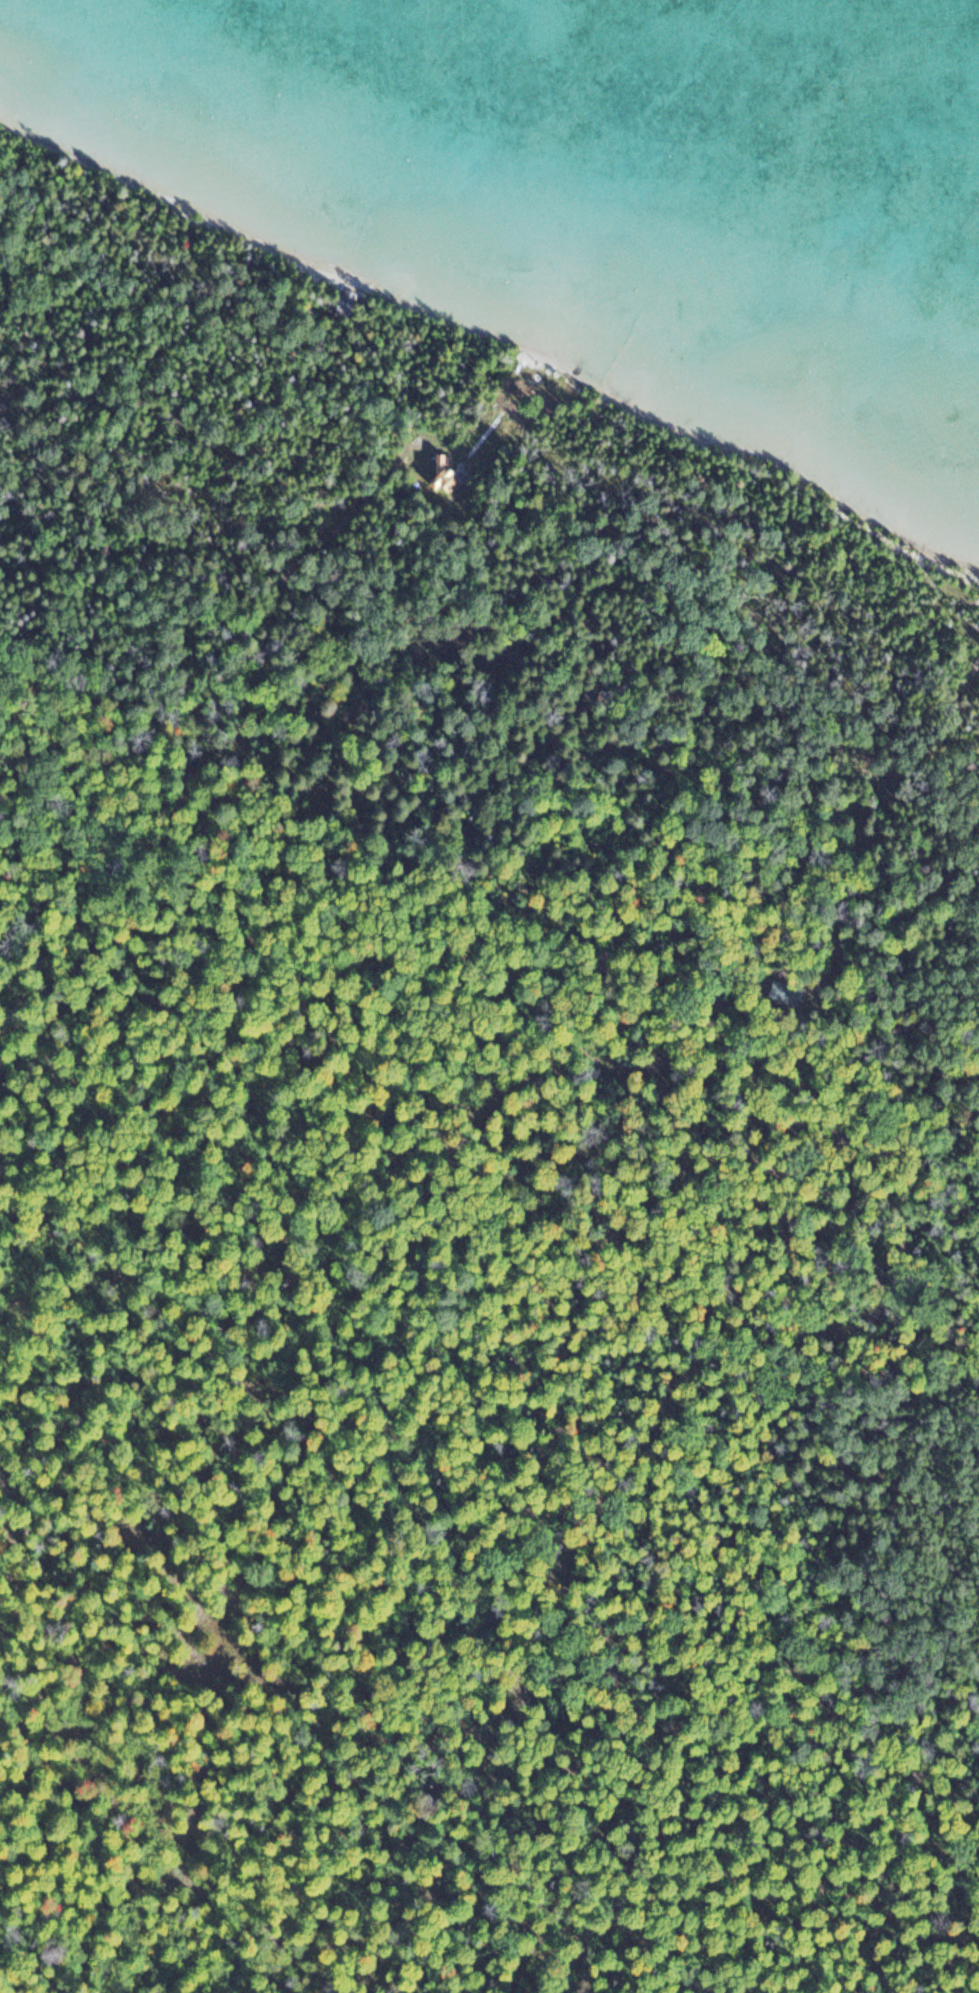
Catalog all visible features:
building: (446, 474)
road: (216, 801)
building: (781, 992)
road: (12, 1505)

